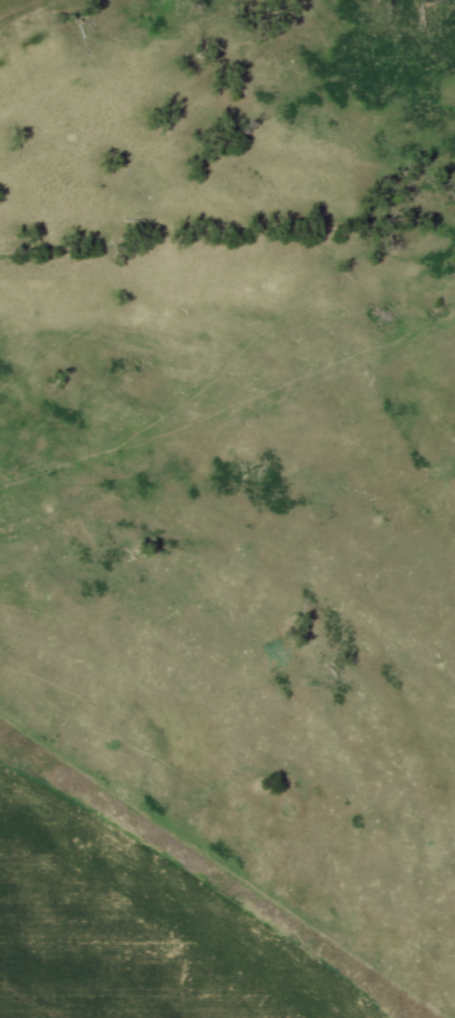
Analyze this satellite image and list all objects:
crop: (142, 932)

